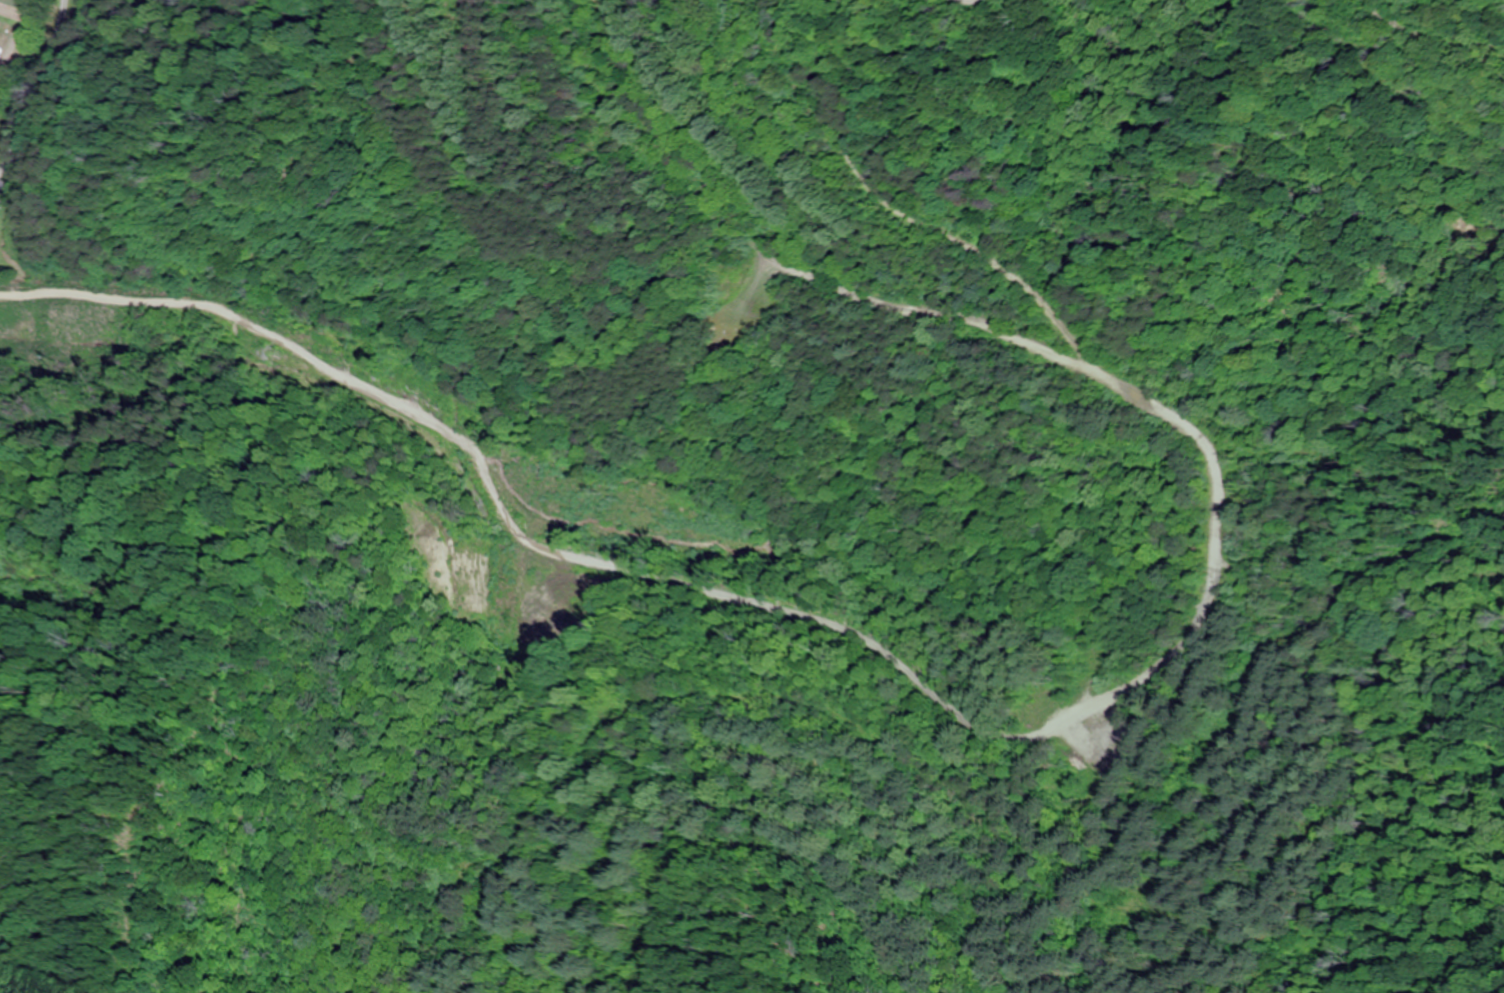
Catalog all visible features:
road: (1447, 43)
road: (65, 332)
road: (365, 406)
road: (1222, 725)

